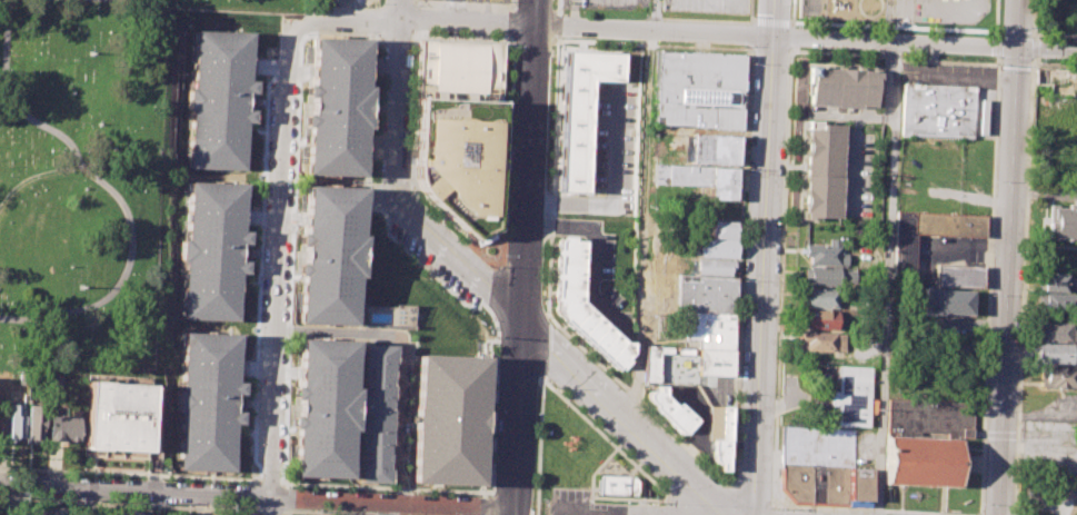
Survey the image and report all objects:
parking lot: (499, 0)
road: (510, 6)
road: (392, 10)
road: (749, 11)
road: (535, 12)
road: (791, 12)
road: (654, 16)
road: (774, 18)
road: (996, 18)
road: (1034, 19)
road: (346, 20)
road: (705, 20)
road: (463, 22)
road: (508, 22)
road: (751, 22)
road: (771, 22)
road: (791, 26)
road: (896, 27)
road: (652, 31)
road: (1014, 32)
road: (748, 33)
road: (1053, 33)
street lamp: (565, 36)
street lamp: (412, 37)
street lamp: (270, 38)
street lamp: (379, 38)
road: (791, 38)
road: (530, 39)
street lamp: (510, 43)
road: (925, 43)
road: (996, 46)
road: (747, 47)
road: (1034, 48)
road: (792, 49)
road: (996, 58)
road: (1014, 59)
road: (1033, 59)
road: (1030, 61)
building: (1055, 80)
building: (839, 86)
street lamp: (377, 89)
building: (698, 89)
street lamp: (297, 98)
building: (219, 99)
building: (336, 106)
building: (580, 111)
building: (936, 111)
street lamp: (376, 121)
road: (412, 122)
building: (458, 130)
street lamp: (508, 142)
building: (714, 148)
road: (500, 150)
street lamp: (266, 157)
road: (741, 168)
street lamp: (373, 170)
building: (821, 170)
road: (785, 175)
road: (36, 176)
park: (84, 176)
road: (552, 178)
building: (698, 178)
road: (108, 187)
road: (611, 190)
street lamp: (413, 191)
street lamp: (437, 215)
street lamp: (375, 220)
building: (1063, 222)
street lamp: (292, 224)
building: (724, 228)
road: (641, 230)
building: (928, 234)
street lamp: (389, 241)
street lamp: (466, 241)
building: (716, 247)
building: (213, 250)
road: (594, 252)
street lamp: (503, 254)
building: (824, 254)
building: (331, 255)
road: (537, 257)
road: (1009, 257)
road: (1024, 265)
street lamp: (416, 266)
street lamp: (493, 266)
building: (714, 266)
road: (280, 269)
road: (523, 269)
building: (820, 275)
road: (762, 276)
building: (958, 276)
street lamp: (261, 278)
road: (884, 278)
building: (1058, 283)
road: (988, 286)
street lamp: (442, 289)
building: (689, 293)
road: (491, 297)
street lamp: (544, 297)
building: (819, 298)
building: (946, 301)
building: (1059, 301)
building: (570, 306)
road: (541, 313)
building: (818, 319)
traffic signals: (522, 326)
building: (709, 328)
building: (1057, 330)
street lamp: (493, 336)
street lamp: (288, 338)
building: (820, 341)
building: (1053, 351)
building: (953, 355)
road: (400, 358)
building: (652, 360)
building: (714, 362)
building: (1059, 376)
street lamp: (556, 387)
building: (849, 396)
street lamp: (258, 397)
road: (637, 399)
building: (209, 402)
building: (325, 407)
street lamp: (492, 410)
building: (670, 410)
building: (377, 413)
street lamp: (538, 413)
building: (448, 418)
building: (118, 419)
building: (14, 420)
building: (34, 423)
building: (62, 427)
building: (718, 435)
road: (539, 444)
building: (815, 446)
street lamp: (283, 458)
building: (921, 460)
street lamp: (40, 472)
street lamp: (177, 478)
building: (824, 484)
street lamp: (290, 485)
building: (617, 485)
road: (257, 496)
road: (40, 499)
street lamp: (99, 501)
road: (730, 501)
road: (90, 502)
parking lot: (570, 502)
road: (89, 503)
road: (179, 505)
road: (270, 508)
road: (862, 509)
building: (50, 511)
road: (772, 511)
building: (124, 512)
road: (331, 512)
road: (626, 513)
street lamp: (258, 514)
road: (630, 514)

